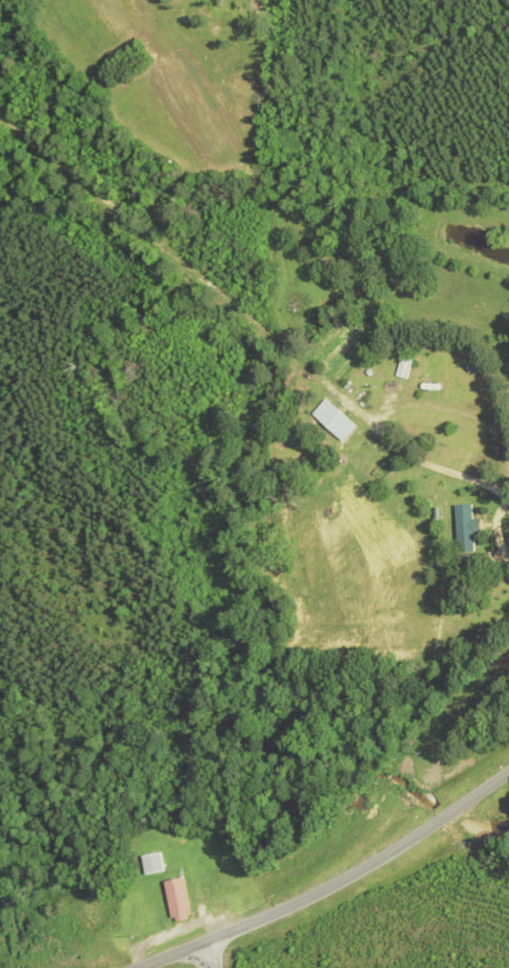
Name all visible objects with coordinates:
building: (398, 368)
building: (331, 422)
building: (461, 530)
building: (151, 864)
road: (363, 870)
building: (174, 901)
building: (88, 917)
road: (171, 955)
road: (208, 955)

